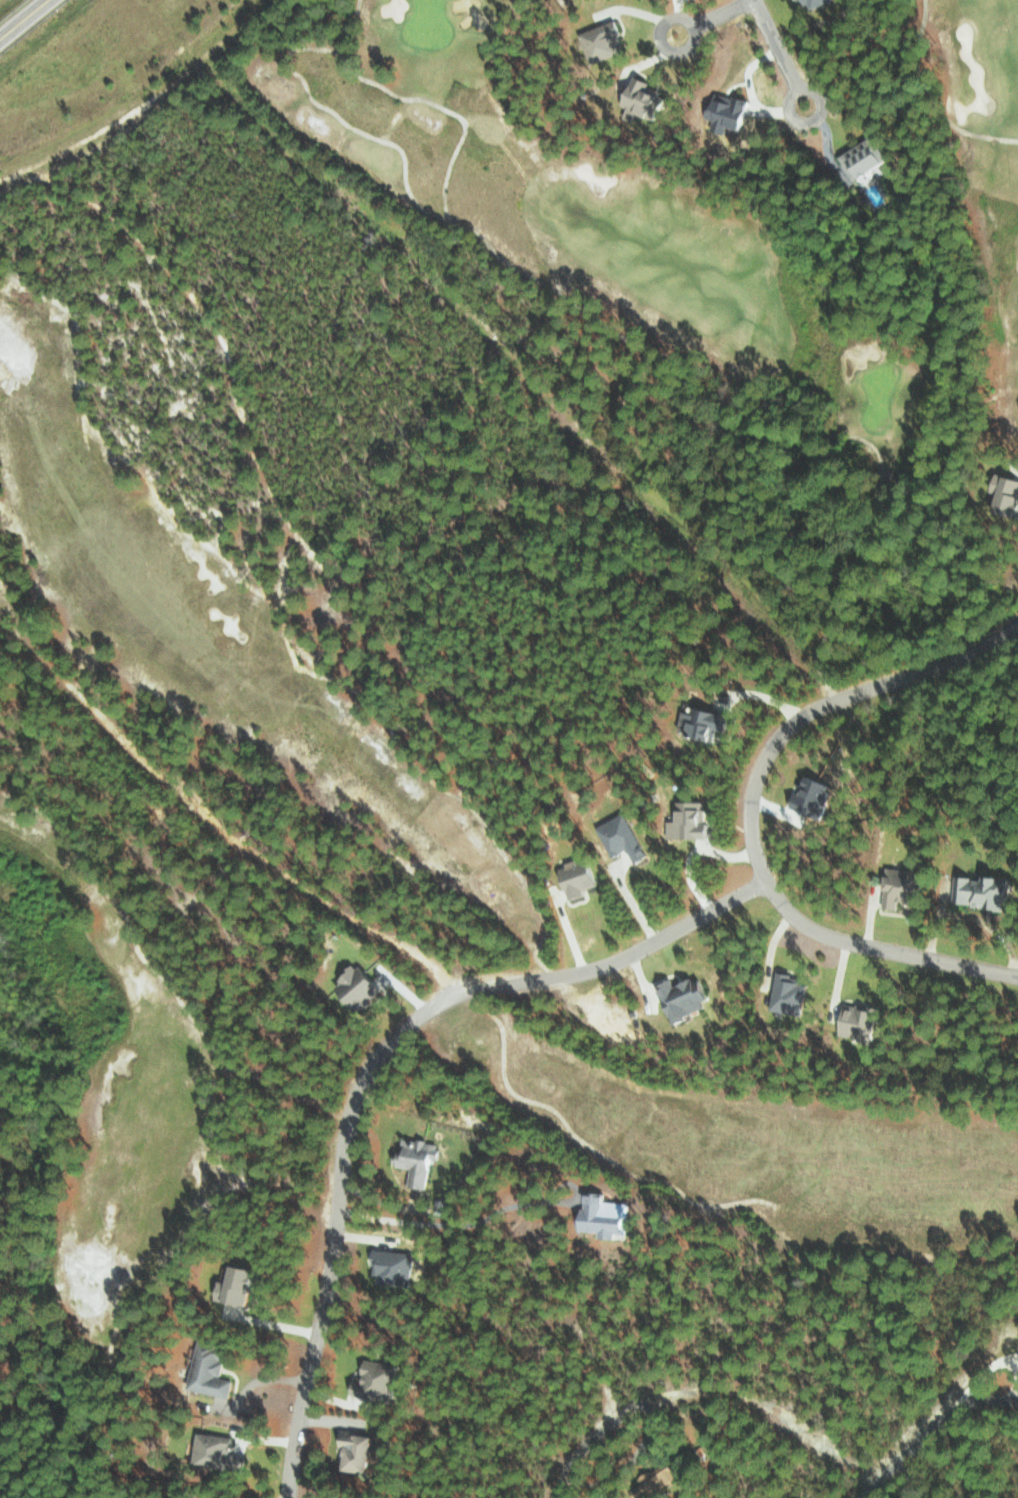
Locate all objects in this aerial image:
airport: (3, 2)
building: (817, 2)
road: (719, 12)
road: (20, 15)
road: (691, 24)
building: (605, 41)
road: (775, 44)
road: (796, 87)
building: (645, 98)
building: (731, 111)
building: (867, 157)
building: (1009, 493)
park: (220, 675)
building: (708, 723)
road: (748, 812)
building: (695, 822)
building: (625, 838)
road: (242, 839)
building: (581, 878)
building: (905, 886)
building: (362, 986)
building: (791, 995)
building: (687, 998)
building: (860, 1024)
road: (371, 1065)
building: (421, 1159)
building: (608, 1214)
road: (477, 1217)
building: (395, 1266)
building: (240, 1284)
building: (212, 1369)
building: (377, 1379)
road: (710, 1395)
road: (935, 1432)
building: (361, 1450)
building: (221, 1453)
building: (658, 1480)

